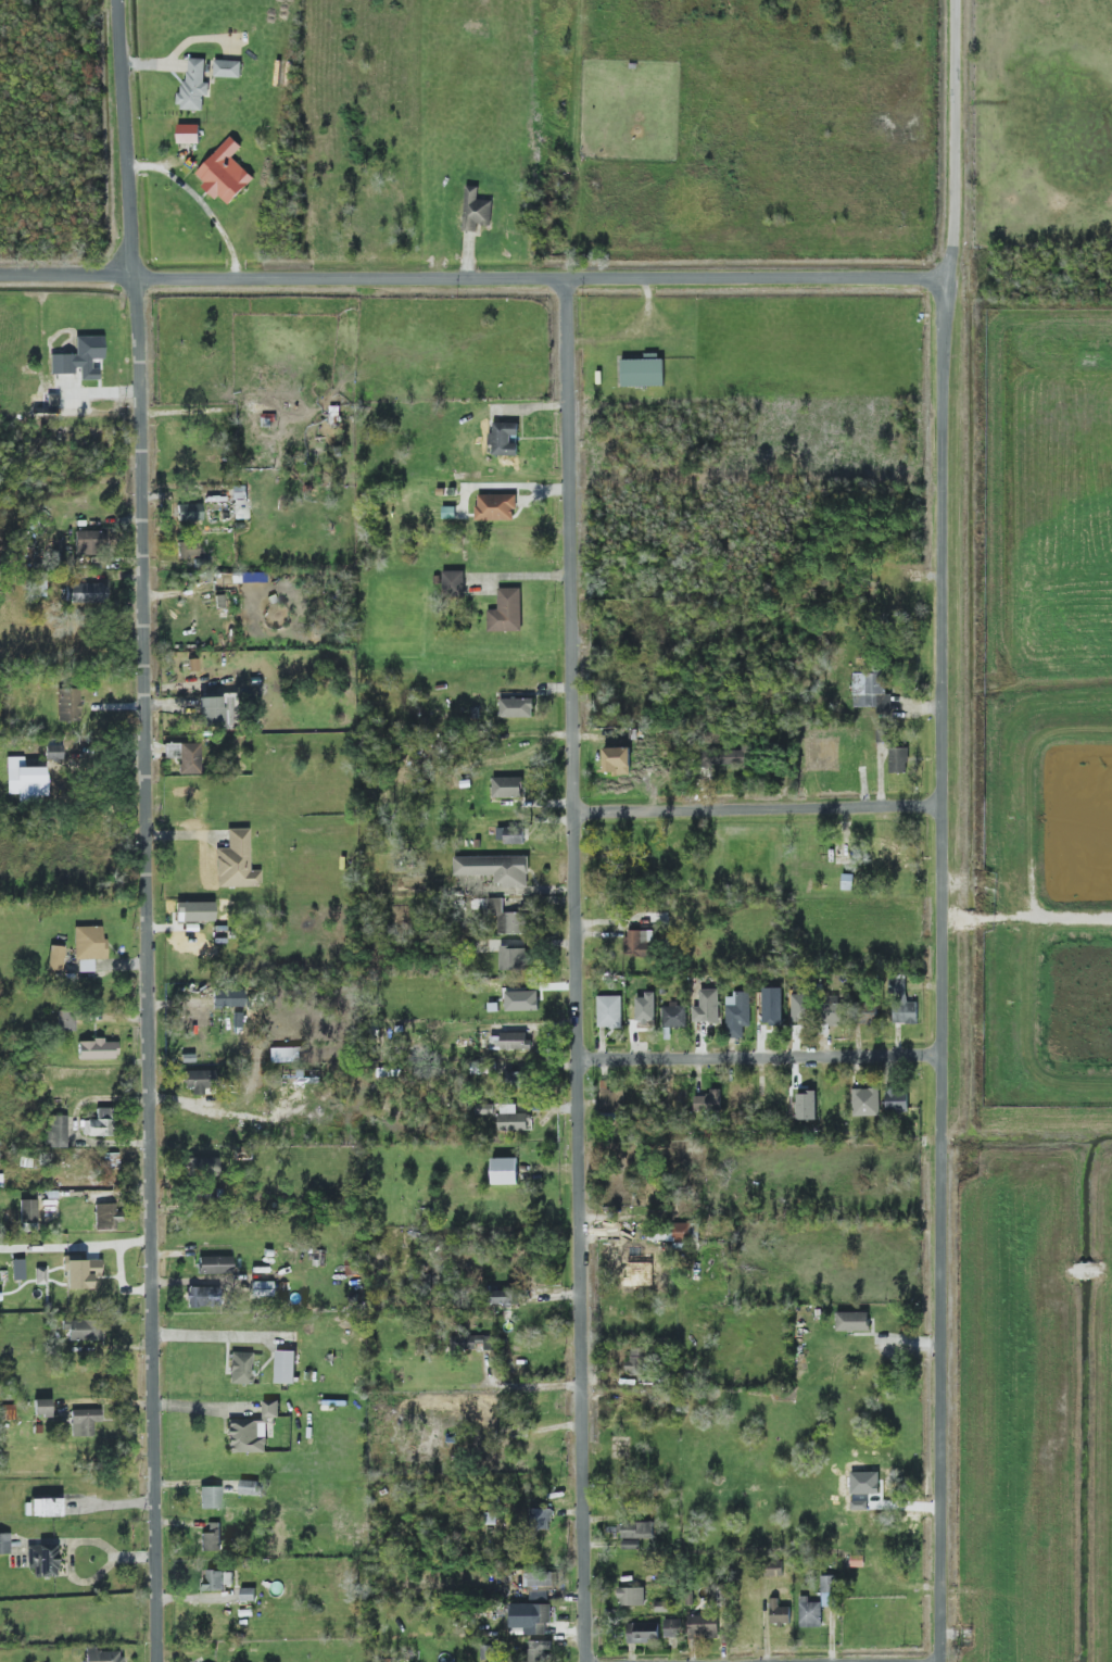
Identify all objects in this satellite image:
building: (228, 68)
building: (193, 86)
building: (188, 134)
building: (225, 173)
road: (201, 202)
building: (476, 211)
road: (476, 278)
building: (79, 358)
building: (643, 372)
building: (504, 439)
building: (239, 502)
building: (496, 507)
building: (188, 512)
building: (88, 543)
building: (188, 550)
building: (454, 582)
building: (86, 593)
building: (506, 612)
road: (143, 640)
road: (943, 649)
building: (871, 692)
building: (68, 704)
building: (517, 707)
building: (210, 710)
building: (52, 751)
building: (726, 757)
building: (189, 758)
building: (617, 760)
building: (898, 760)
building: (25, 779)
road: (574, 783)
building: (507, 788)
road: (759, 809)
building: (510, 834)
building: (235, 861)
building: (495, 869)
building: (194, 911)
building: (507, 919)
building: (640, 943)
building: (88, 947)
building: (55, 957)
building: (514, 958)
building: (227, 998)
building: (901, 1003)
building: (708, 1007)
building: (646, 1008)
building: (609, 1011)
building: (737, 1013)
building: (769, 1013)
building: (798, 1013)
building: (835, 1013)
building: (869, 1015)
building: (674, 1016)
building: (199, 1017)
building: (66, 1021)
building: (515, 1041)
building: (97, 1049)
road: (760, 1058)
building: (517, 1080)
building: (198, 1081)
building: (708, 1099)
building: (898, 1099)
building: (612, 1100)
building: (865, 1101)
building: (807, 1106)
building: (511, 1119)
building: (99, 1123)
building: (58, 1131)
building: (111, 1159)
building: (202, 1166)
building: (505, 1171)
building: (27, 1210)
building: (105, 1217)
building: (674, 1233)
building: (642, 1262)
building: (214, 1264)
building: (16, 1270)
building: (81, 1273)
building: (40, 1275)
building: (265, 1286)
building: (195, 1297)
building: (503, 1298)
building: (852, 1321)
building: (84, 1330)
building: (472, 1343)
building: (286, 1367)
building: (240, 1368)
road: (525, 1385)
building: (41, 1407)
building: (270, 1409)
building: (84, 1421)
building: (247, 1436)
road: (155, 1471)
road: (583, 1475)
road: (942, 1480)
building: (860, 1481)
building: (250, 1487)
building: (210, 1497)
building: (43, 1507)
building: (539, 1519)
building: (637, 1531)
building: (211, 1537)
road: (74, 1543)
building: (4, 1544)
building: (41, 1560)
building: (773, 1569)
building: (218, 1579)
building: (541, 1579)
building: (829, 1590)
building: (248, 1595)
building: (631, 1597)
building: (779, 1613)
building: (810, 1613)
building: (531, 1617)
building: (704, 1625)
building: (672, 1628)
building: (642, 1633)
building: (539, 1650)
building: (101, 1655)

